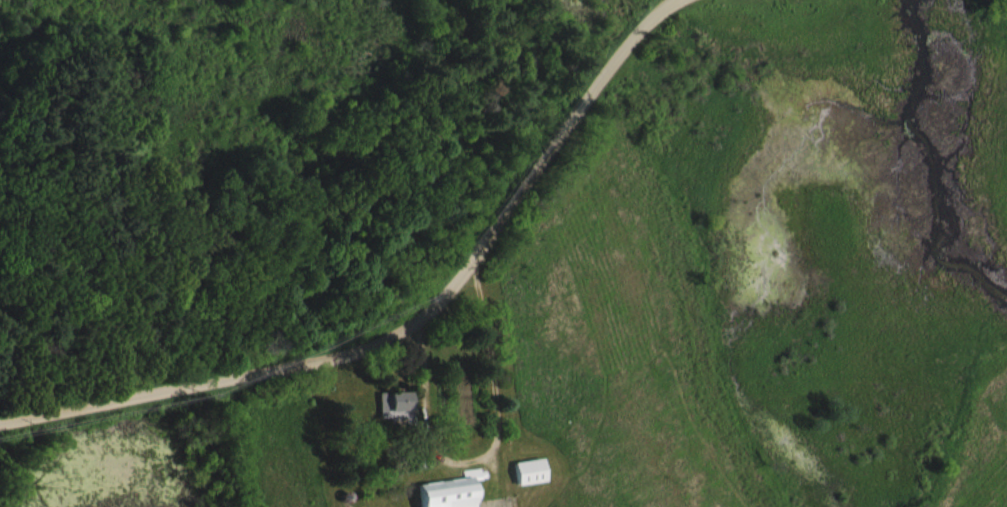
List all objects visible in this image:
road: (401, 311)
building: (401, 405)
building: (533, 471)
building: (455, 491)

